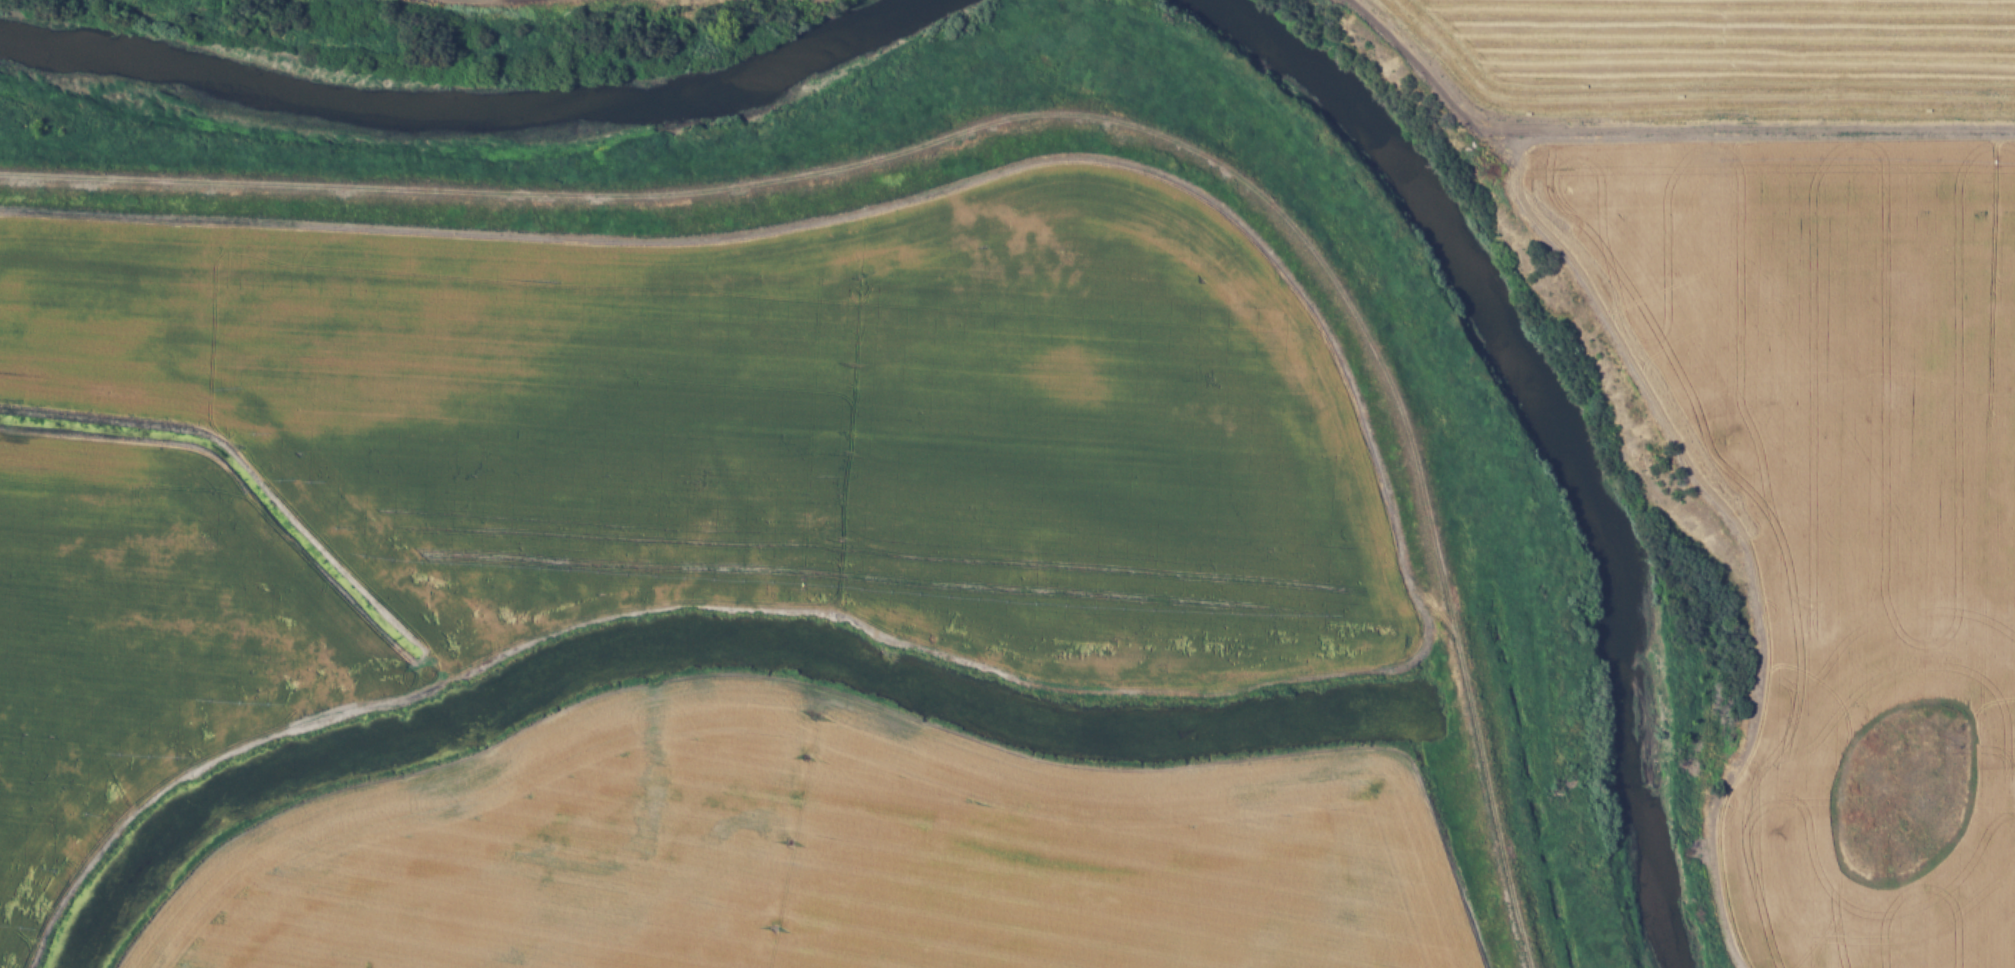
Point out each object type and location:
river: (471, 112)
river: (1552, 429)

